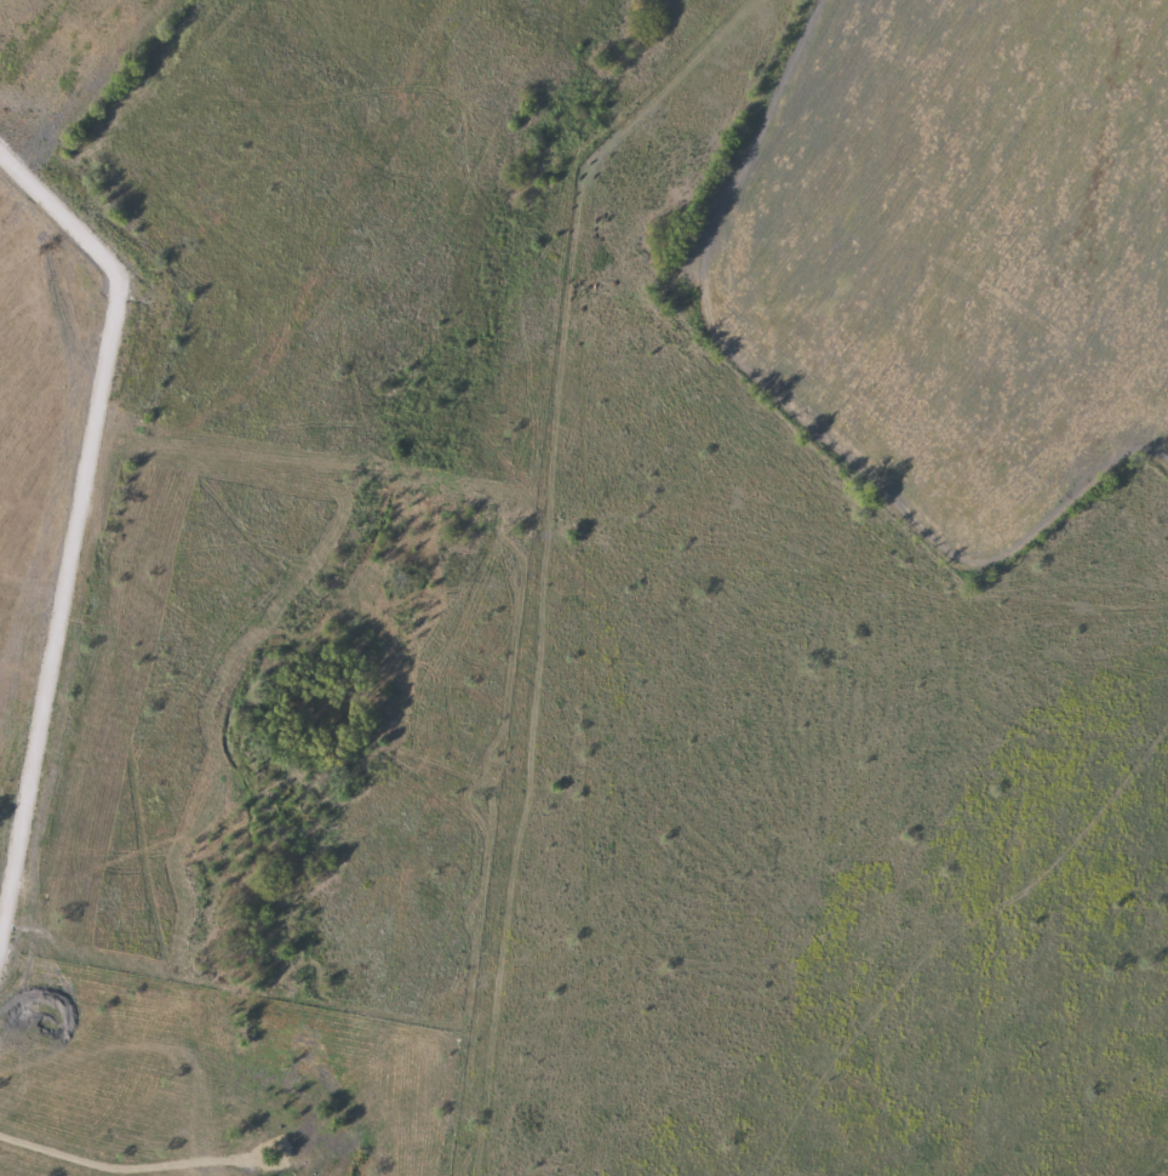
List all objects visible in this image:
road: (252, 390)

